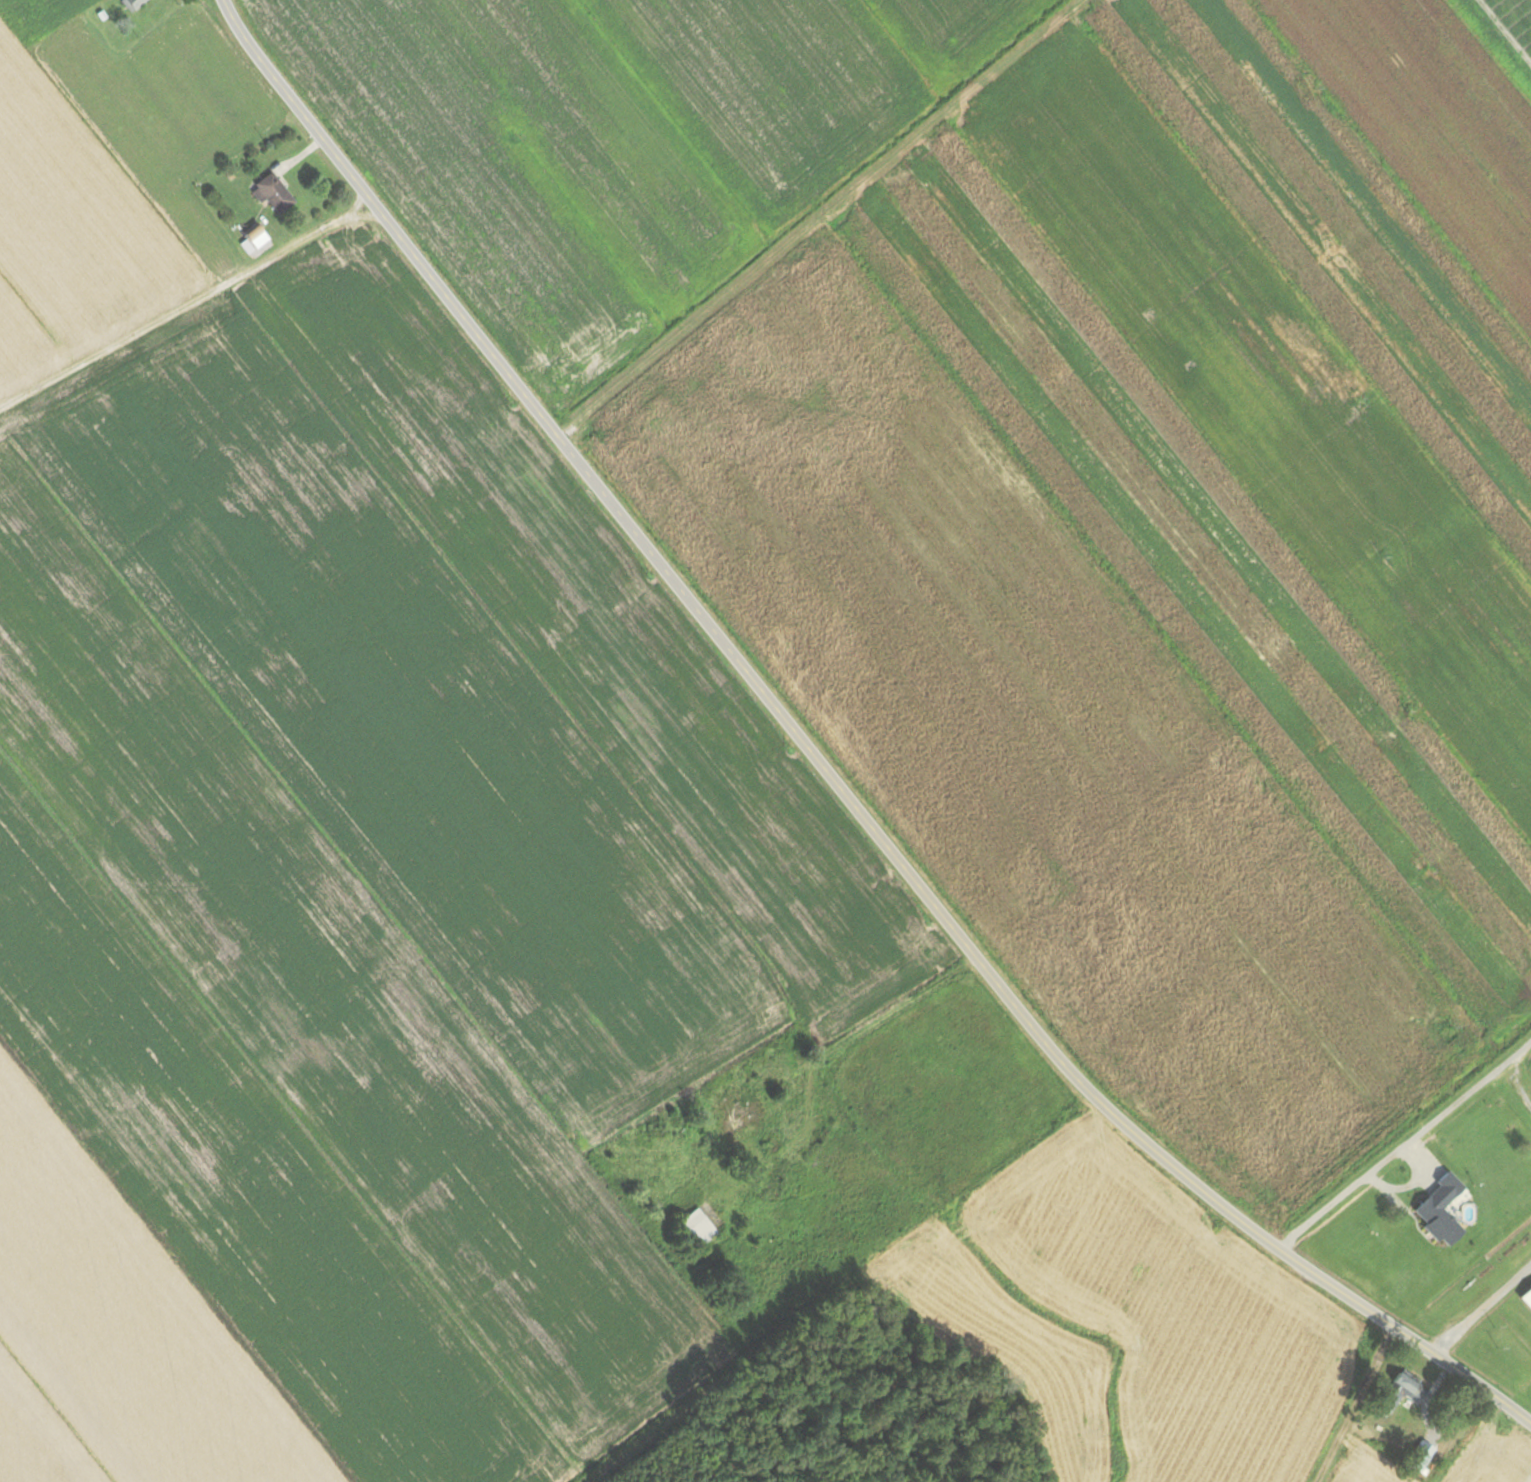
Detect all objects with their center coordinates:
building: (131, 4)
building: (271, 193)
road: (367, 214)
building: (254, 236)
road: (211, 293)
road: (821, 770)
road: (1515, 1088)
building: (735, 1116)
road: (1404, 1143)
building: (1436, 1222)
building: (695, 1229)
road: (1480, 1311)
building: (1399, 1394)
building: (1419, 1457)

